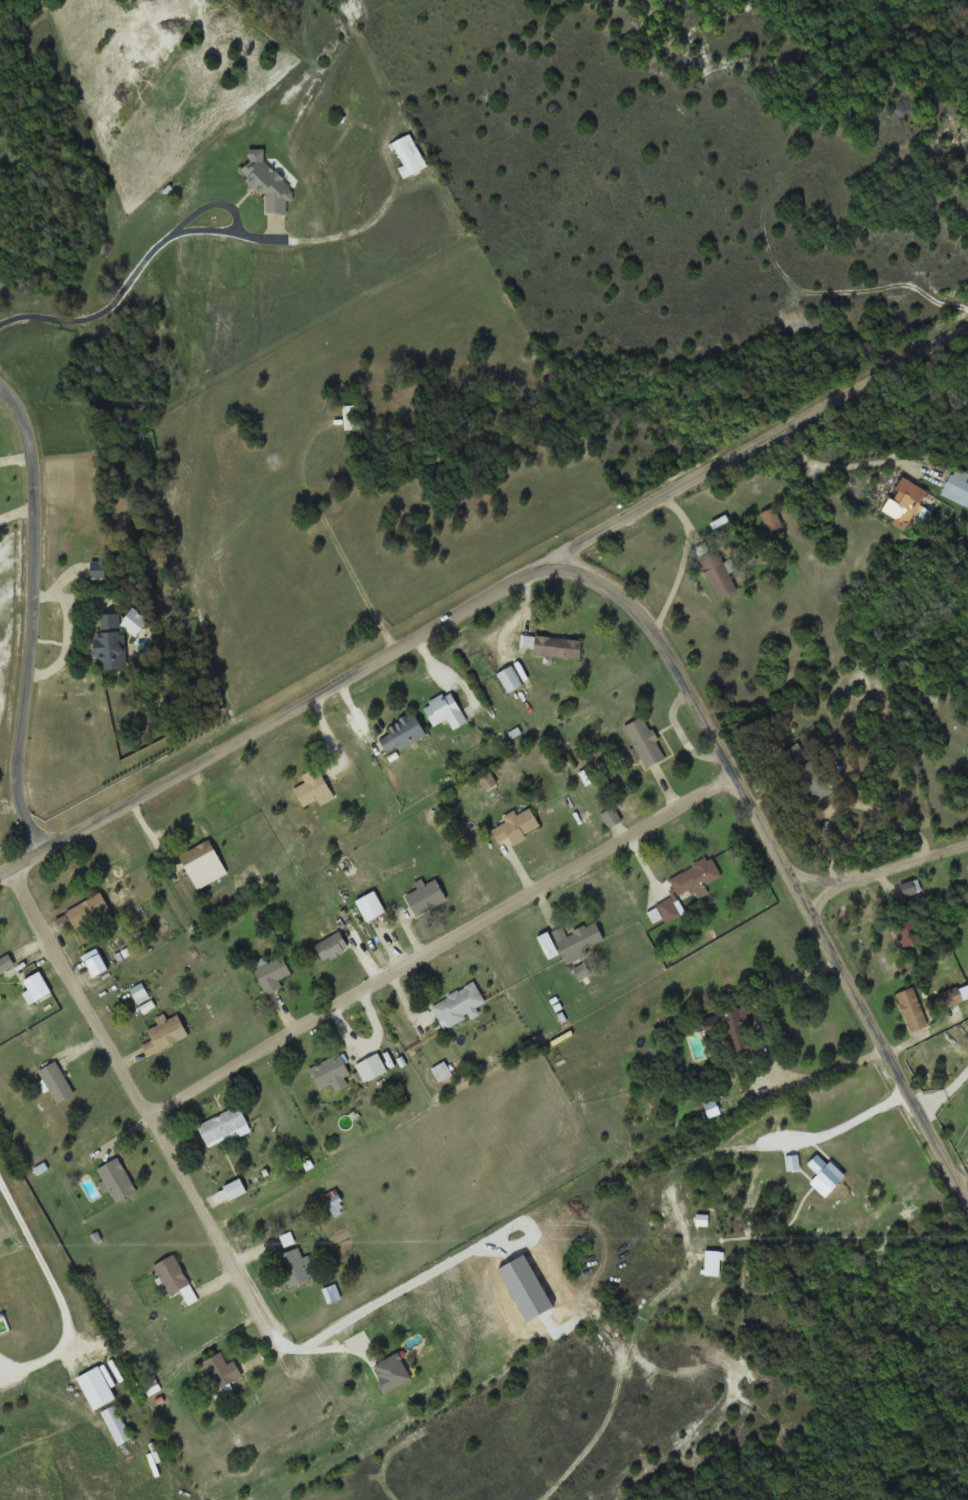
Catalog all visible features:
building: (406, 153)
building: (264, 180)
road: (236, 214)
road: (103, 310)
building: (352, 416)
road: (767, 446)
building: (957, 483)
building: (771, 519)
building: (96, 571)
building: (718, 572)
road: (618, 602)
road: (31, 616)
building: (109, 639)
building: (556, 645)
building: (509, 678)
building: (444, 709)
building: (401, 732)
building: (645, 740)
building: (796, 754)
building: (815, 779)
building: (312, 787)
building: (612, 816)
building: (515, 824)
building: (202, 863)
road: (881, 874)
building: (688, 887)
building: (425, 894)
building: (369, 905)
building: (85, 909)
building: (907, 929)
building: (577, 940)
road: (443, 941)
building: (331, 945)
building: (5, 961)
building: (945, 963)
building: (271, 973)
building: (35, 984)
building: (140, 991)
building: (458, 1005)
building: (912, 1008)
building: (736, 1029)
building: (164, 1033)
building: (374, 1070)
building: (329, 1071)
road: (134, 1078)
building: (56, 1080)
building: (393, 1102)
building: (222, 1124)
building: (118, 1178)
building: (336, 1205)
building: (297, 1265)
building: (175, 1276)
road: (57, 1295)
road: (296, 1352)
building: (221, 1369)
building: (390, 1371)
building: (152, 1384)
building: (116, 1423)

